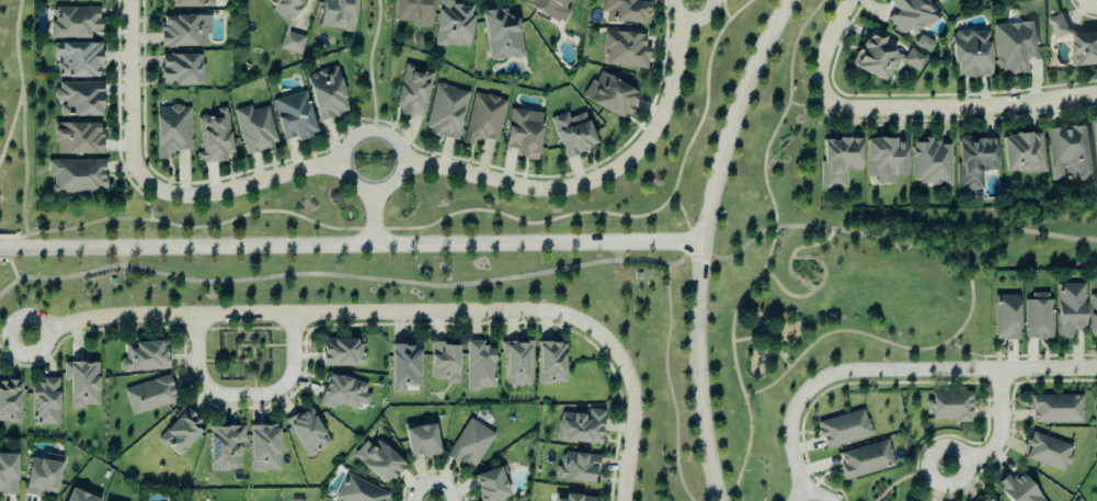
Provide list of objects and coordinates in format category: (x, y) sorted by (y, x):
building: (67, 0)
road: (719, 0)
building: (942, 1)
building: (190, 4)
building: (285, 9)
building: (549, 9)
building: (413, 12)
building: (626, 12)
building: (338, 15)
building: (911, 15)
building: (73, 23)
building: (452, 25)
building: (182, 33)
building: (501, 36)
road: (831, 42)
building: (292, 44)
building: (924, 44)
building: (1077, 44)
building: (1014, 47)
building: (625, 50)
building: (971, 55)
building: (883, 57)
building: (77, 60)
road: (369, 66)
building: (181, 71)
road: (134, 92)
building: (412, 92)
building: (327, 94)
building: (610, 96)
building: (78, 100)
road: (812, 106)
road: (956, 109)
building: (446, 113)
building: (294, 117)
building: (483, 119)
road: (23, 129)
building: (254, 129)
building: (172, 132)
building: (524, 134)
building: (572, 135)
building: (214, 138)
building: (78, 139)
building: (1095, 144)
building: (1022, 155)
building: (1069, 155)
building: (885, 161)
building: (839, 162)
building: (974, 162)
building: (932, 163)
building: (76, 177)
road: (602, 178)
road: (353, 184)
road: (243, 189)
road: (683, 208)
road: (457, 212)
road: (372, 218)
road: (901, 232)
road: (14, 237)
road: (707, 242)
road: (353, 247)
road: (770, 250)
road: (618, 252)
road: (122, 257)
road: (699, 257)
road: (5, 260)
road: (369, 277)
road: (16, 280)
building: (1070, 309)
road: (404, 314)
building: (1038, 316)
building: (1093, 316)
building: (1006, 317)
road: (247, 328)
road: (14, 335)
road: (238, 338)
road: (266, 344)
road: (898, 344)
building: (342, 353)
road: (973, 353)
building: (142, 356)
road: (226, 360)
building: (444, 362)
building: (551, 363)
building: (517, 364)
building: (479, 366)
building: (403, 367)
road: (253, 371)
road: (894, 372)
building: (81, 384)
road: (670, 384)
building: (343, 392)
building: (149, 395)
road: (248, 398)
building: (9, 401)
building: (44, 402)
building: (950, 406)
building: (1056, 409)
building: (580, 428)
building: (844, 429)
building: (180, 432)
building: (307, 432)
road: (1002, 435)
building: (421, 440)
building: (470, 444)
building: (225, 447)
building: (263, 447)
building: (1049, 452)
building: (866, 459)
building: (378, 462)
building: (576, 468)
building: (8, 474)
building: (41, 477)
building: (490, 486)
building: (1019, 488)
building: (359, 491)
building: (78, 496)
building: (569, 498)
road: (814, 498)
building: (991, 500)

